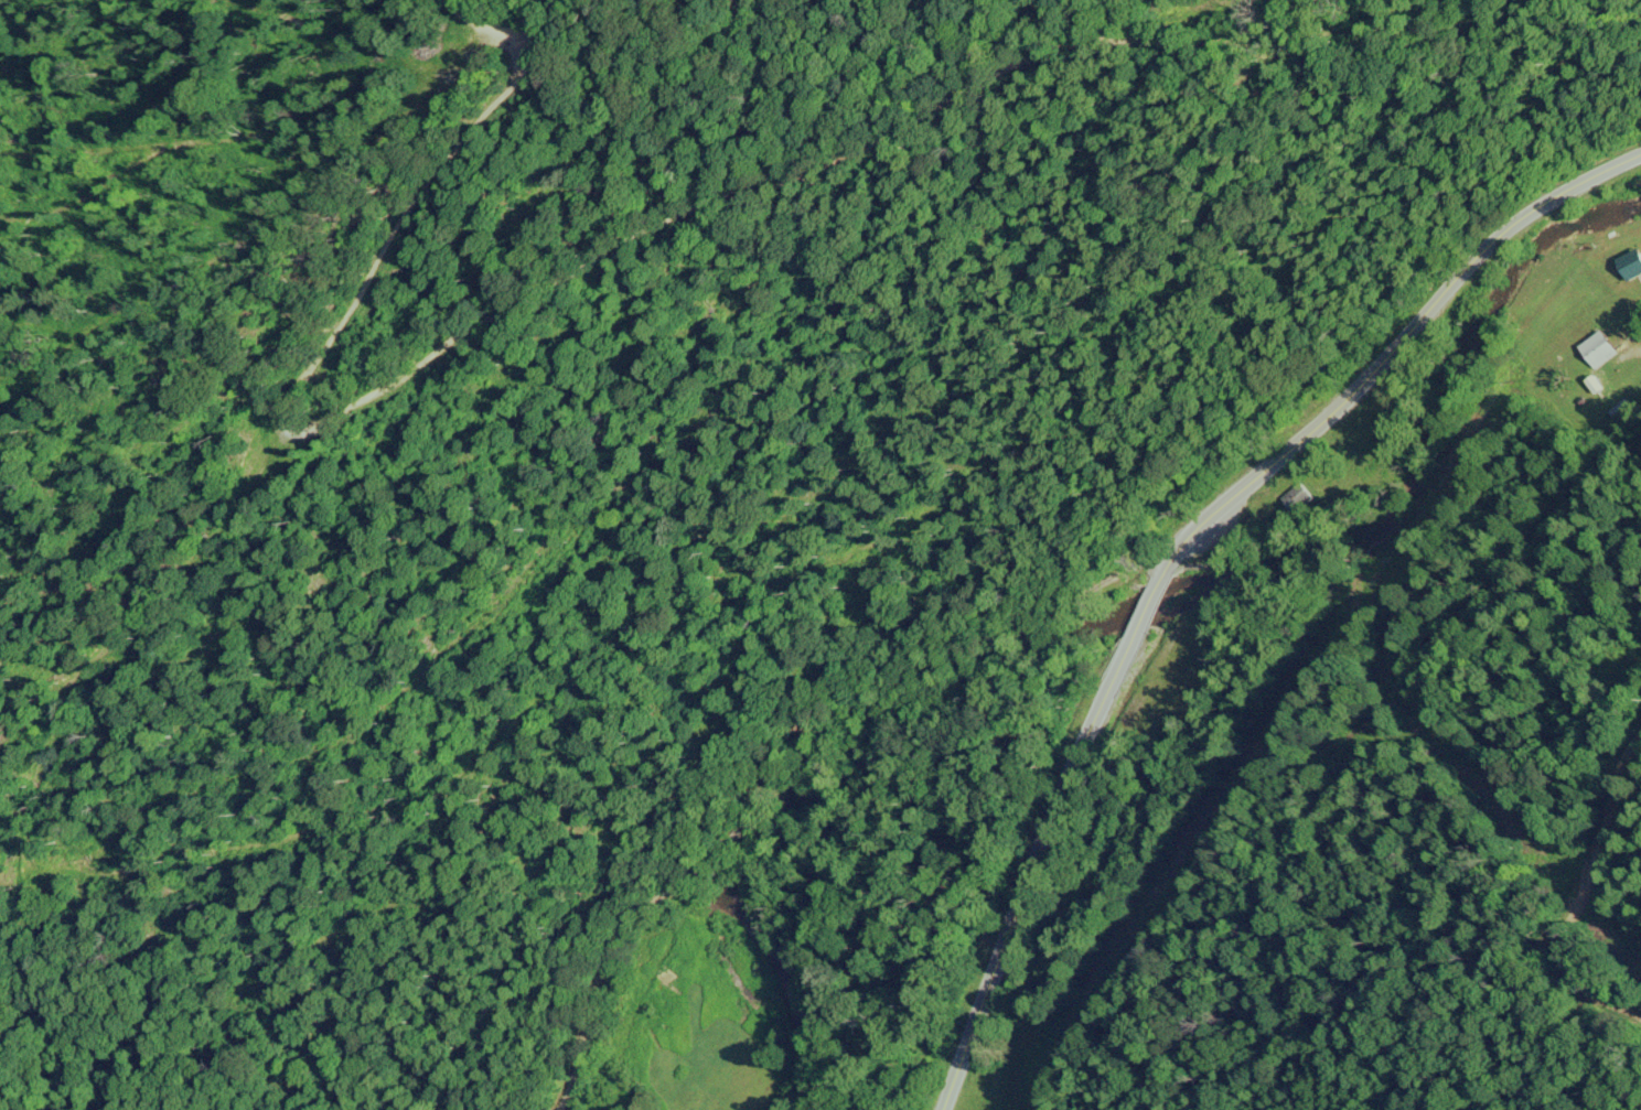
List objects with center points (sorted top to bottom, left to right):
road: (497, 254)
building: (1301, 495)
road: (1181, 546)

